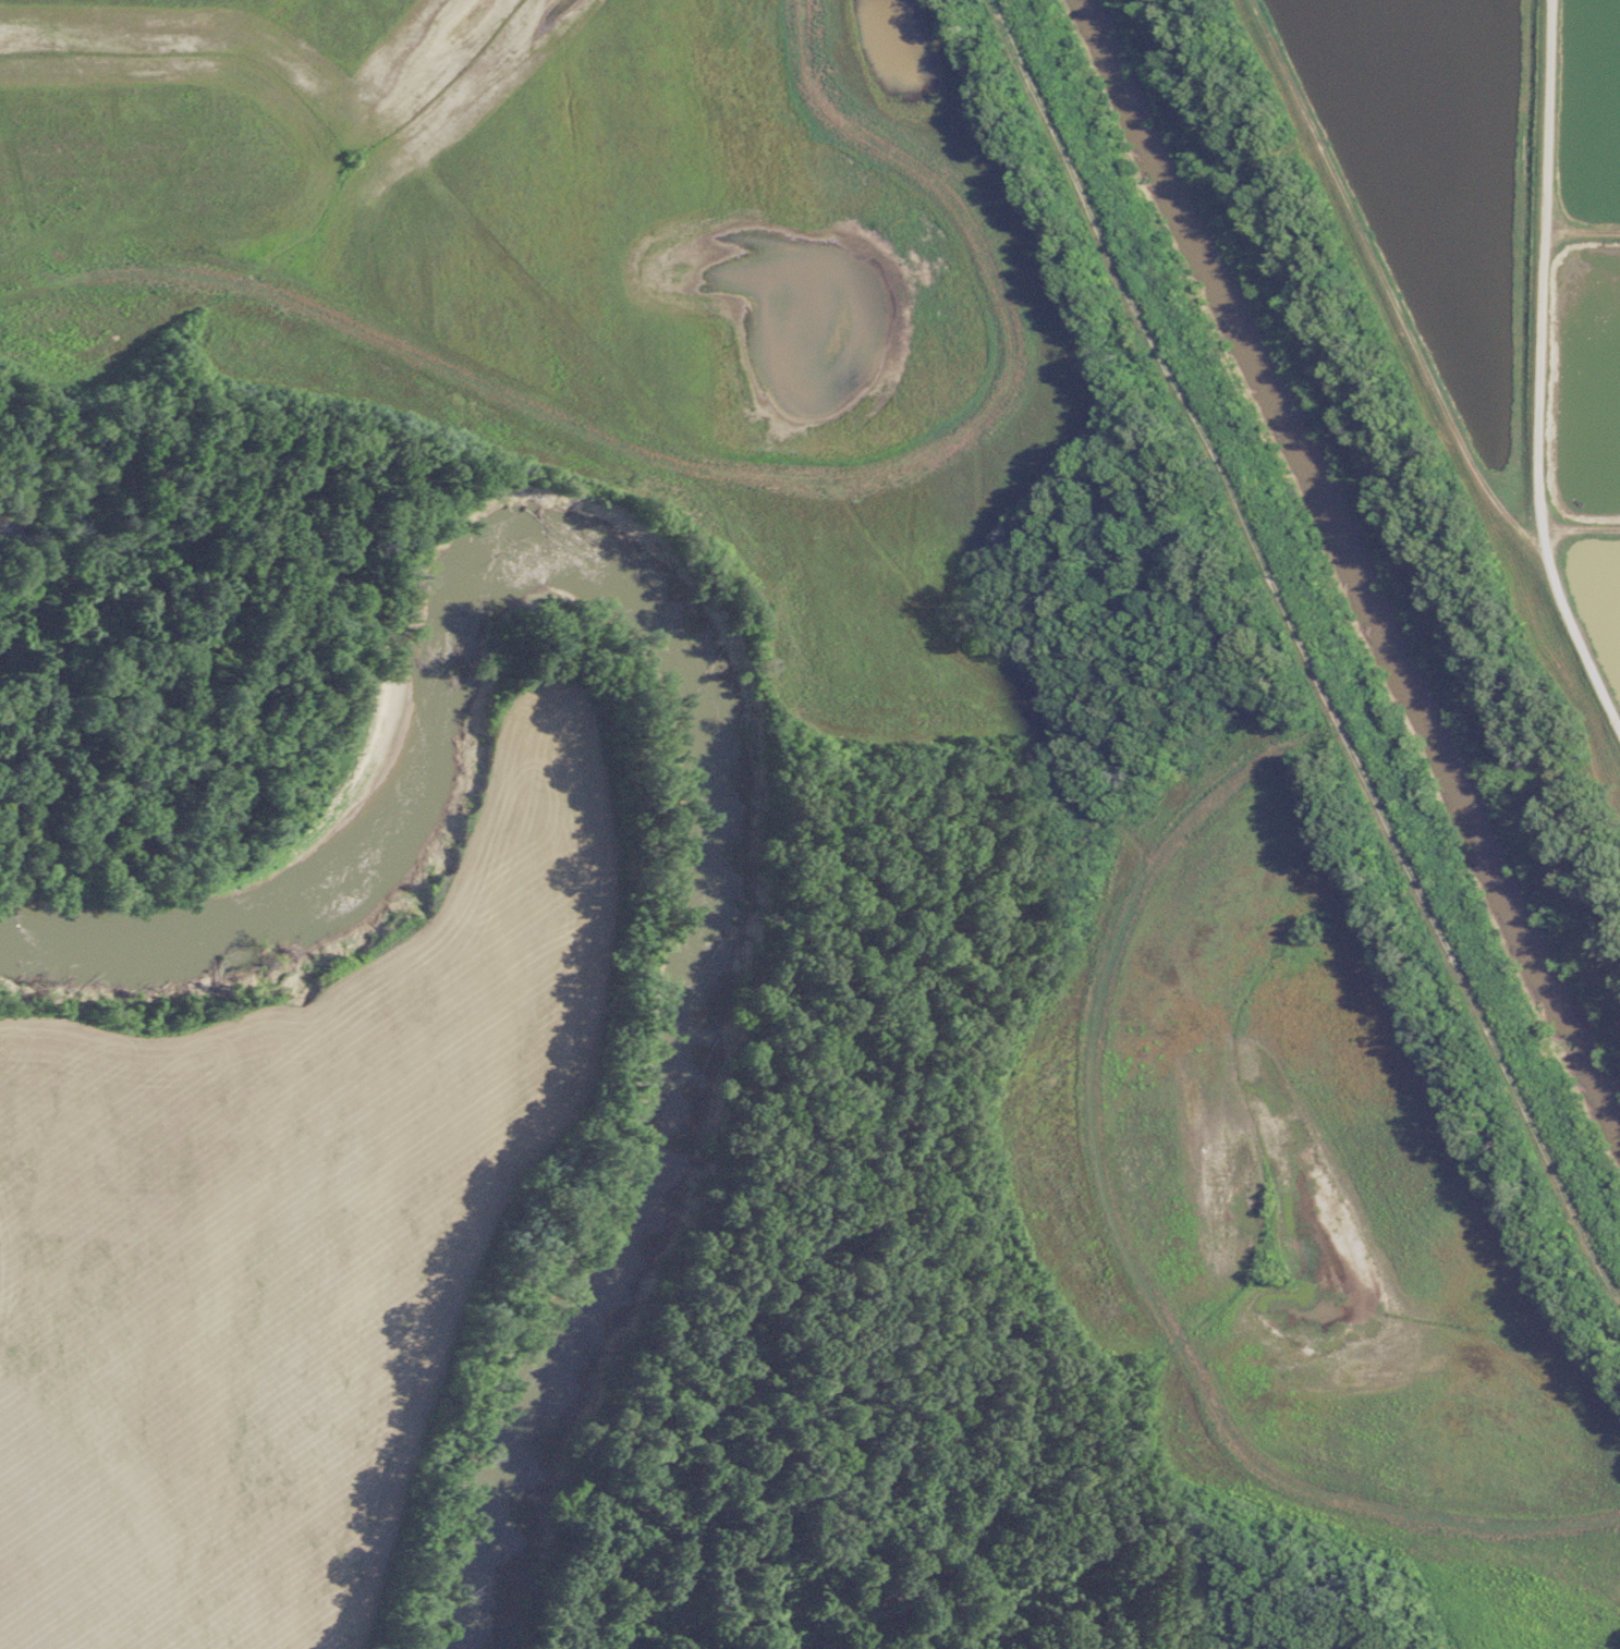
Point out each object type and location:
road: (1308, 645)
river: (665, 717)

